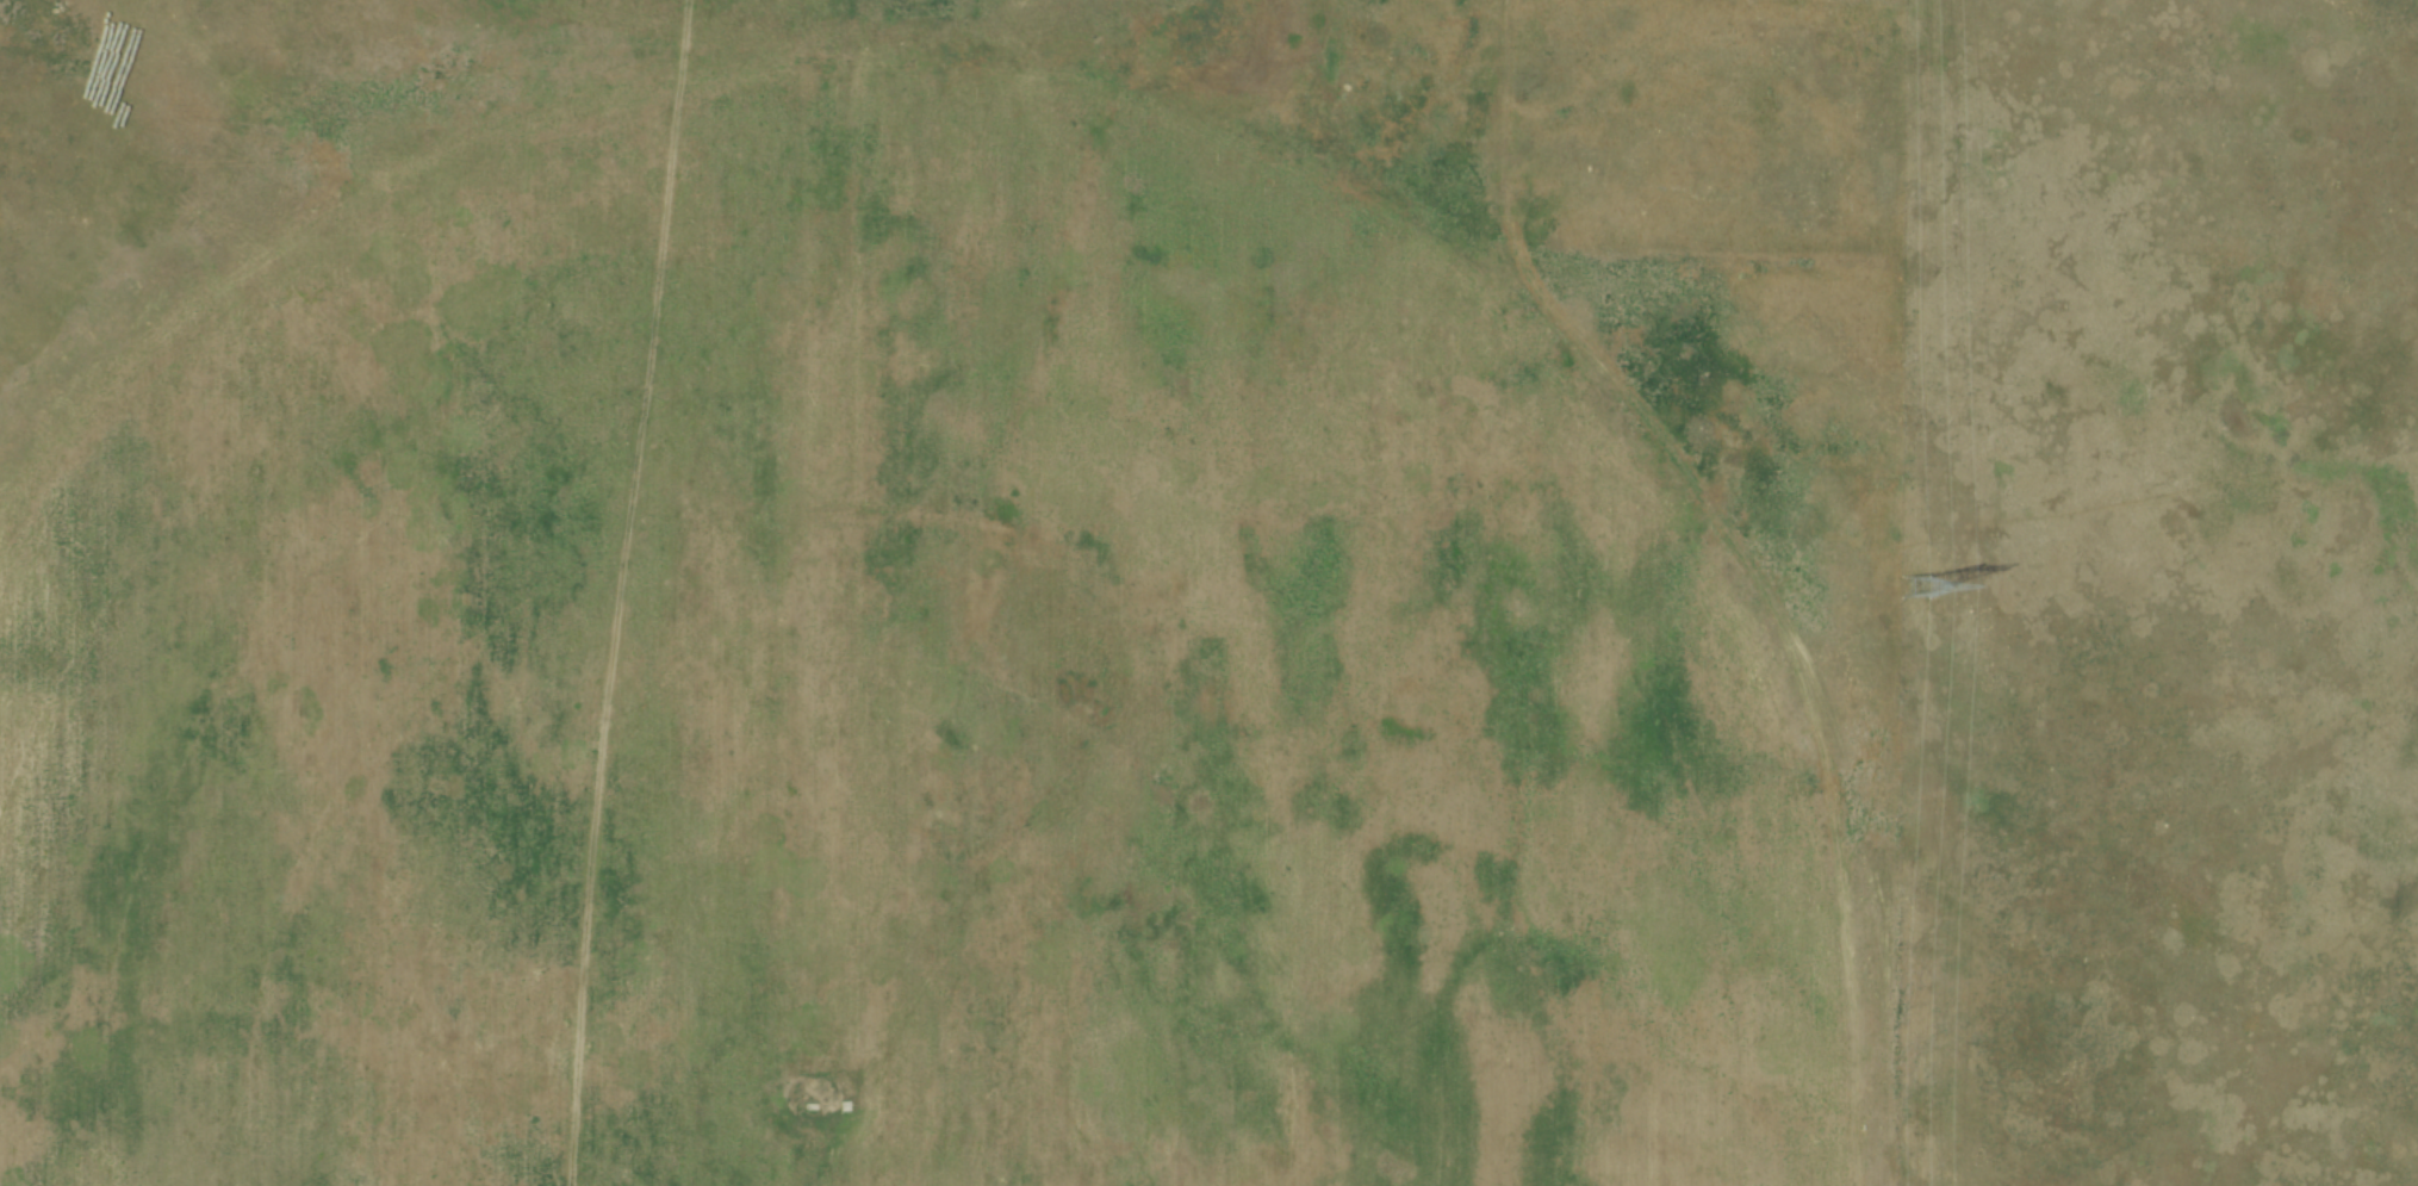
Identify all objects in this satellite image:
power tower: (1914, 586)

